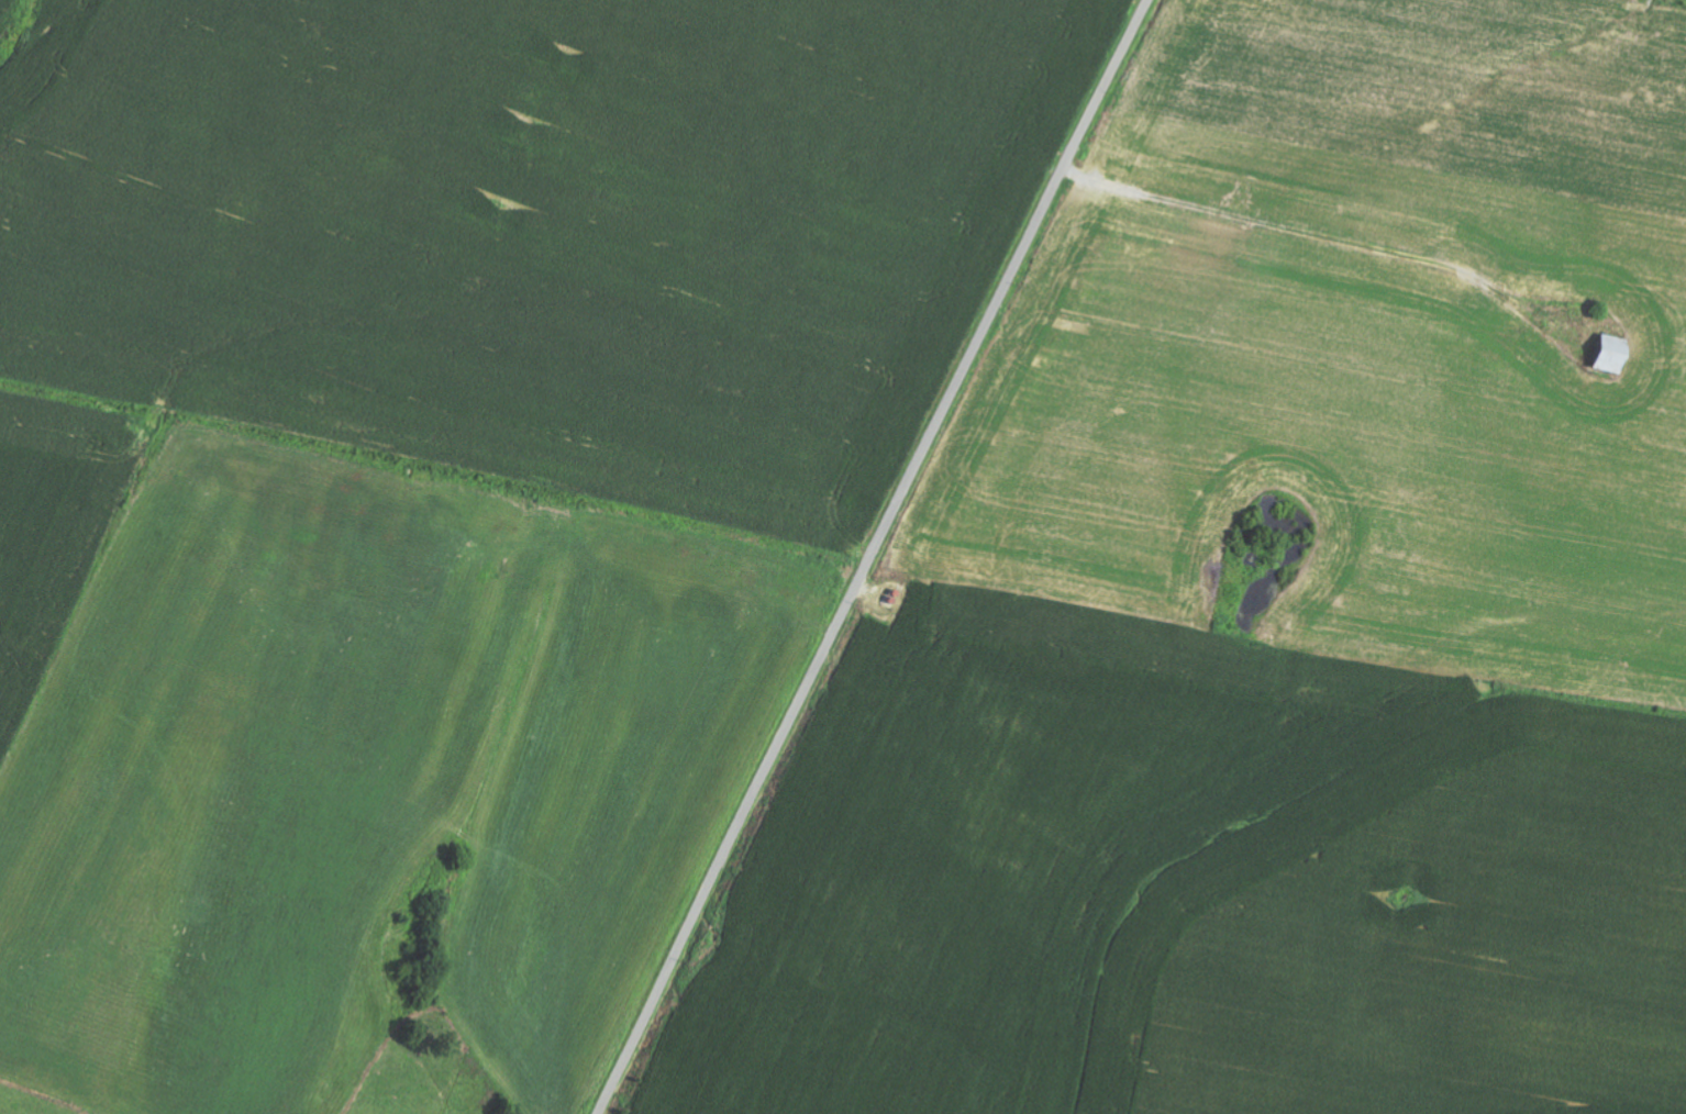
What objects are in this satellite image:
building: (1615, 355)
road: (873, 556)

